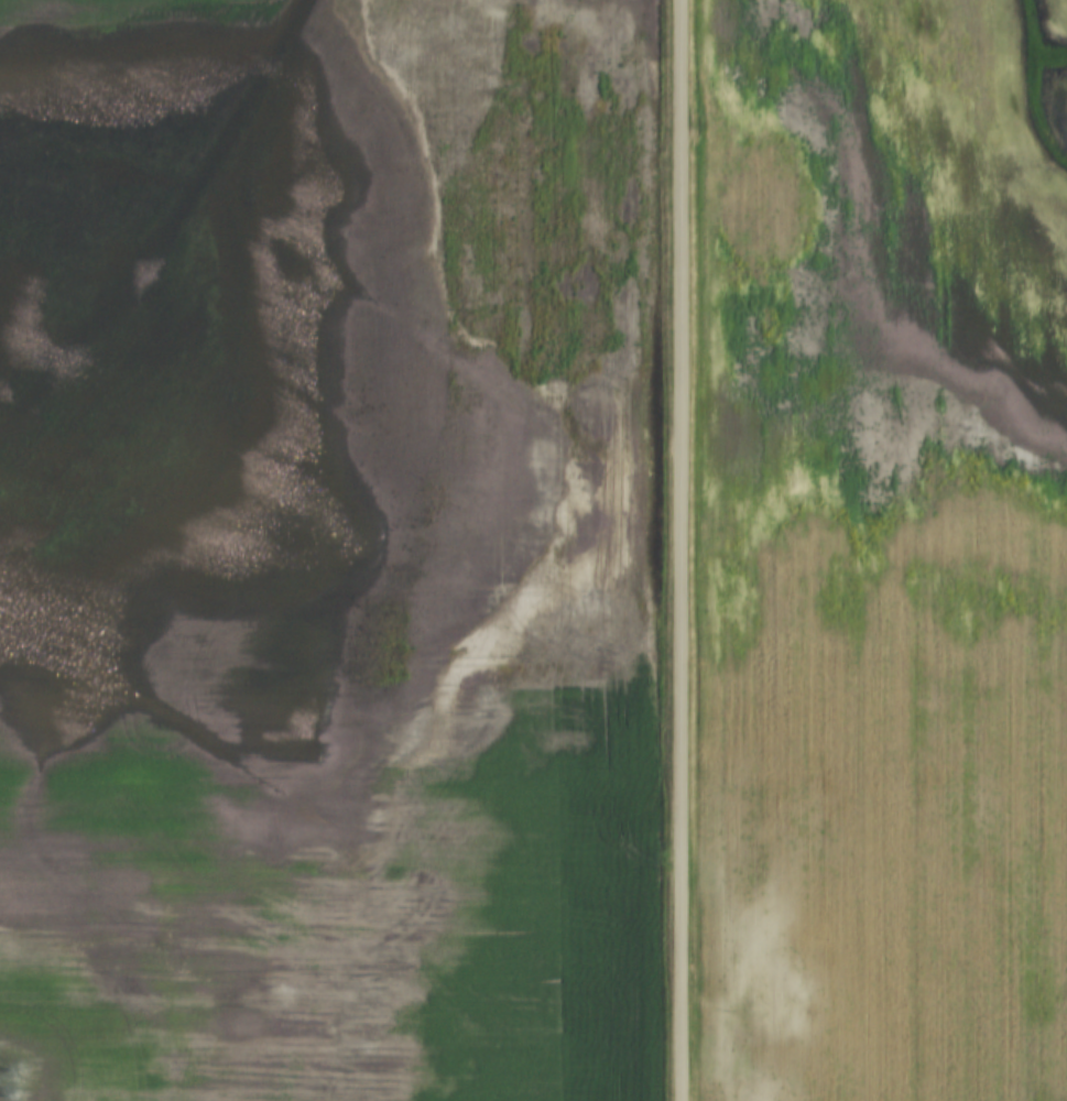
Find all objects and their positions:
road: (677, 550)

